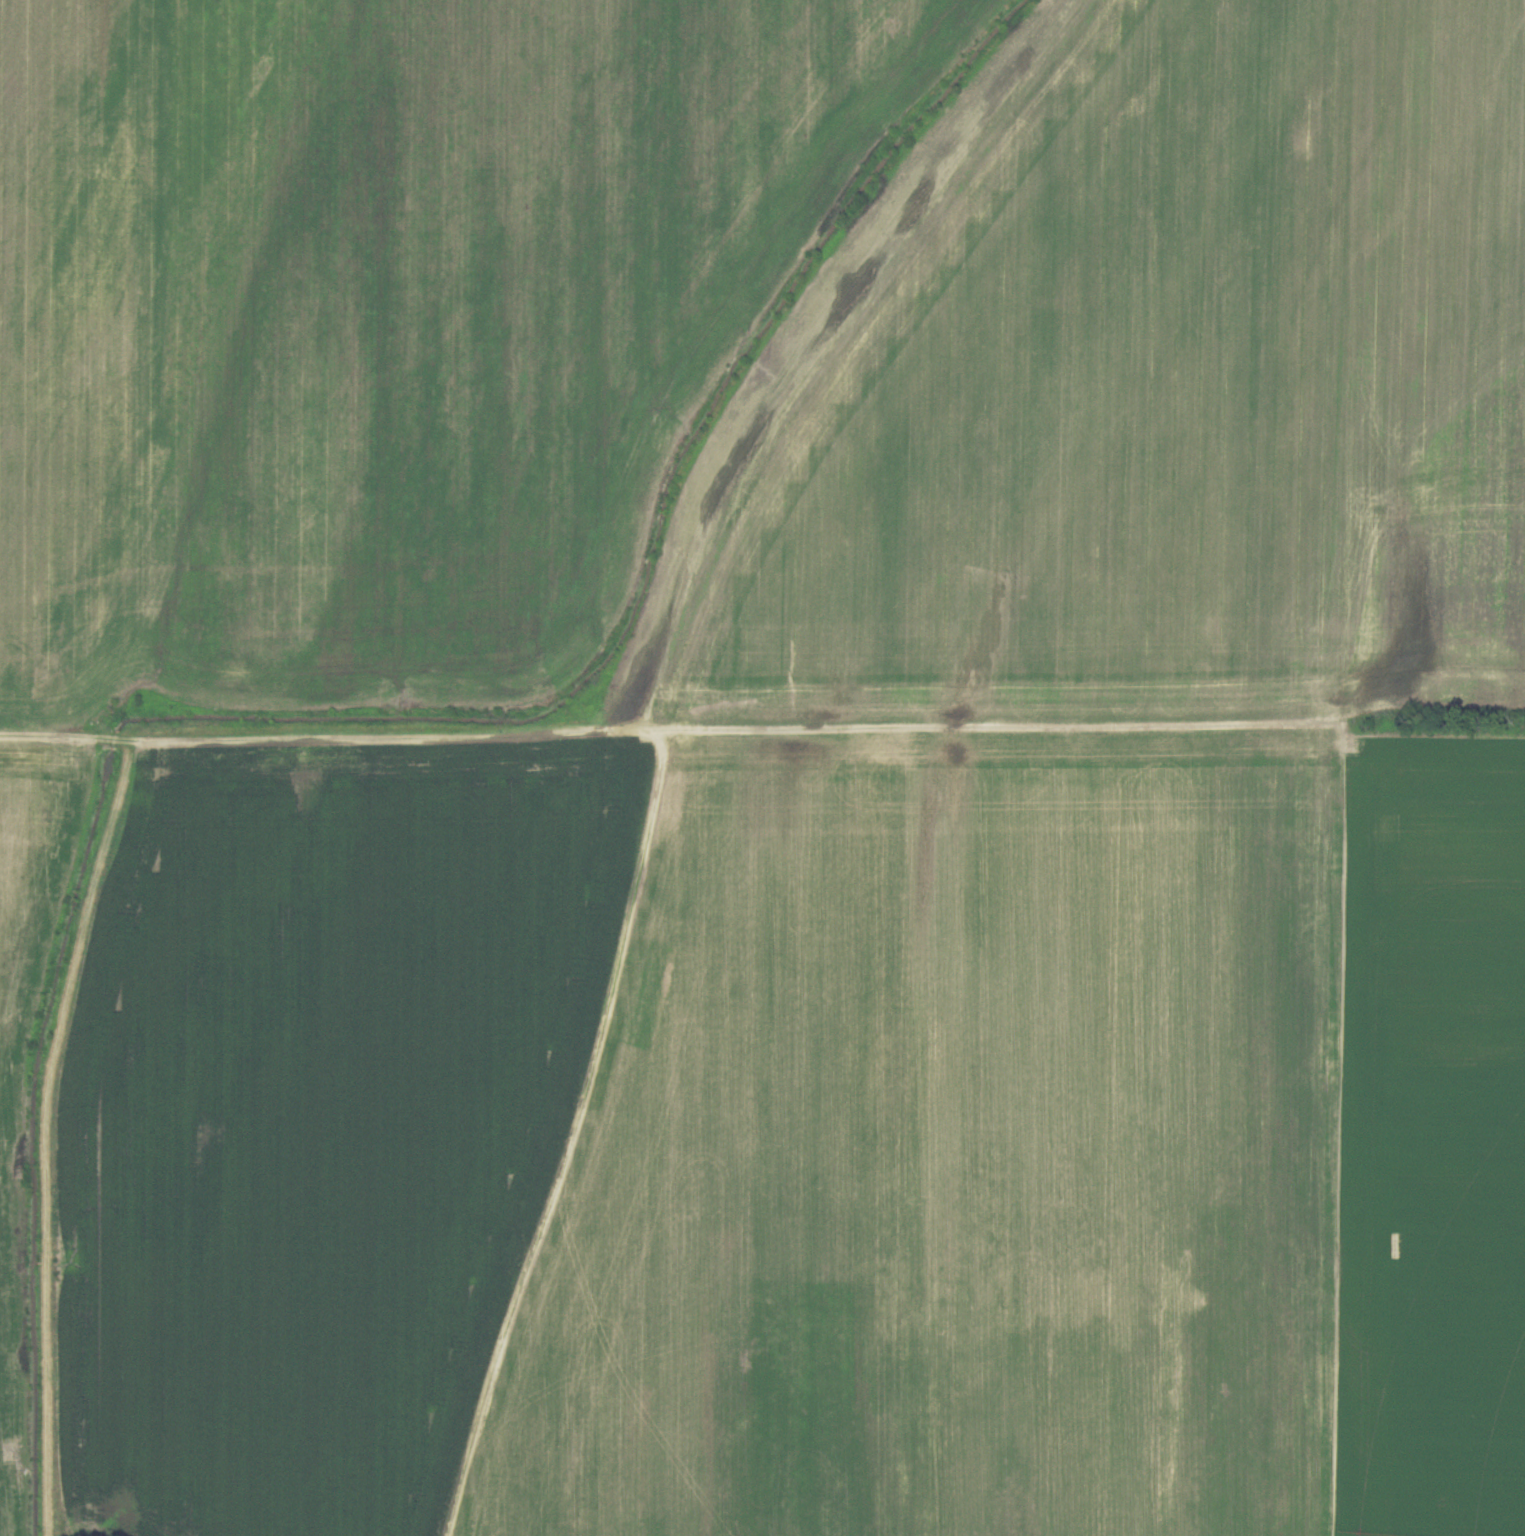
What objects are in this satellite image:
road: (656, 728)

